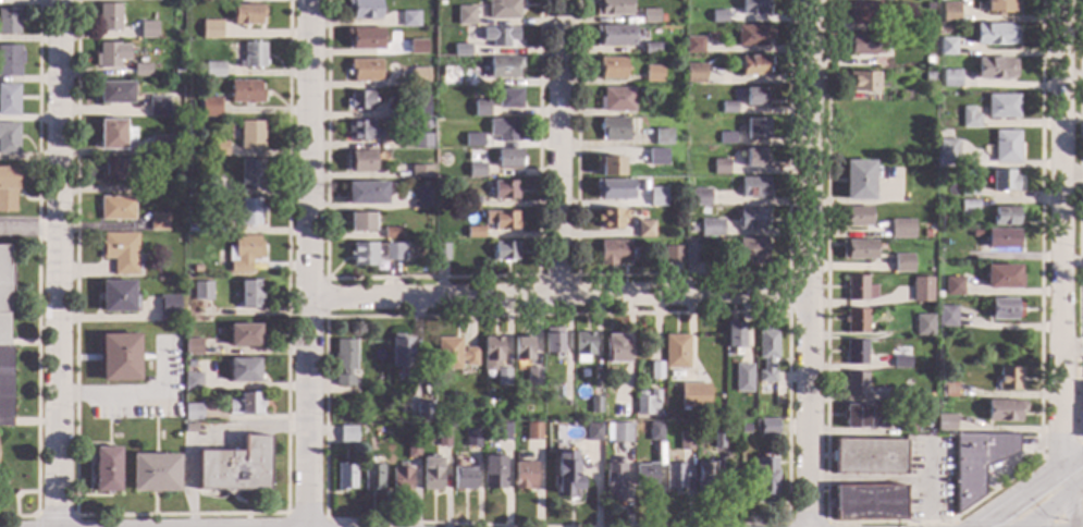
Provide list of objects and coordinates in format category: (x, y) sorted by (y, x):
building: (148, 0)
building: (753, 7)
building: (928, 7)
building: (995, 7)
building: (612, 8)
building: (362, 9)
building: (502, 10)
building: (950, 12)
building: (864, 13)
building: (247, 15)
building: (464, 15)
building: (109, 16)
building: (650, 16)
building: (718, 16)
building: (409, 19)
building: (9, 21)
building: (148, 29)
building: (211, 29)
building: (994, 34)
building: (614, 35)
building: (752, 35)
building: (500, 37)
building: (364, 38)
building: (865, 44)
building: (694, 45)
building: (416, 47)
building: (947, 47)
building: (653, 49)
building: (460, 50)
building: (111, 54)
building: (253, 56)
building: (10, 61)
building: (927, 61)
building: (753, 65)
building: (503, 68)
building: (612, 68)
building: (994, 68)
building: (141, 70)
building: (212, 70)
building: (365, 70)
building: (176, 74)
building: (653, 74)
building: (694, 74)
building: (927, 76)
building: (419, 77)
building: (951, 78)
building: (468, 81)
building: (862, 82)
building: (245, 91)
building: (114, 93)
building: (641, 93)
building: (902, 94)
building: (507, 98)
building: (754, 98)
building: (9, 99)
building: (359, 100)
building: (616, 100)
building: (158, 106)
building: (931, 106)
building: (1001, 106)
building: (207, 107)
building: (418, 107)
building: (728, 108)
building: (480, 109)
building: (969, 118)
building: (423, 125)
building: (901, 125)
building: (756, 128)
building: (389, 130)
building: (503, 130)
building: (613, 130)
building: (362, 131)
building: (114, 134)
building: (250, 135)
building: (865, 135)
building: (662, 137)
building: (889, 137)
building: (9, 138)
building: (729, 139)
building: (421, 140)
building: (472, 140)
building: (924, 140)
building: (909, 143)
building: (160, 145)
building: (1005, 146)
road: (557, 147)
building: (218, 149)
building: (947, 152)
building: (655, 157)
building: (507, 158)
building: (754, 158)
building: (359, 161)
building: (610, 167)
building: (719, 167)
building: (114, 168)
building: (476, 170)
building: (250, 172)
building: (420, 172)
road: (1072, 175)
building: (858, 181)
building: (1004, 181)
building: (148, 185)
building: (210, 187)
building: (753, 187)
building: (8, 188)
building: (613, 189)
building: (504, 191)
building: (956, 191)
building: (968, 191)
building: (366, 194)
building: (655, 197)
building: (698, 197)
building: (420, 198)
building: (471, 201)
building: (968, 206)
building: (116, 208)
building: (249, 211)
building: (704, 211)
building: (854, 217)
building: (1004, 217)
building: (610, 218)
building: (751, 218)
building: (501, 219)
building: (158, 222)
building: (360, 222)
road: (1079, 224)
building: (214, 226)
building: (711, 228)
building: (194, 229)
building: (643, 229)
building: (900, 229)
road: (28, 230)
building: (475, 232)
building: (392, 233)
building: (876, 234)
building: (1000, 238)
road: (1060, 241)
building: (920, 248)
building: (858, 249)
building: (752, 250)
building: (505, 252)
building: (613, 252)
building: (121, 253)
building: (374, 253)
building: (441, 253)
building: (244, 254)
building: (672, 255)
building: (690, 255)
road: (57, 263)
road: (313, 263)
road: (810, 263)
building: (902, 263)
building: (1000, 277)
building: (952, 286)
building: (856, 287)
building: (921, 290)
building: (201, 291)
road: (561, 293)
building: (250, 294)
building: (118, 297)
building: (168, 305)
building: (1002, 309)
building: (946, 317)
building: (856, 321)
building: (923, 324)
building: (244, 335)
building: (734, 336)
building: (4, 338)
building: (552, 341)
building: (582, 346)
building: (192, 347)
building: (522, 348)
building: (615, 350)
building: (401, 352)
building: (675, 352)
road: (1071, 352)
building: (491, 353)
building: (857, 353)
building: (454, 354)
building: (119, 358)
building: (765, 359)
building: (188, 361)
building: (344, 361)
building: (900, 361)
building: (243, 370)
building: (655, 371)
building: (502, 377)
building: (533, 377)
building: (742, 378)
building: (1007, 380)
building: (192, 381)
building: (856, 384)
building: (686, 390)
building: (948, 390)
road: (131, 391)
building: (563, 392)
building: (900, 394)
building: (740, 397)
building: (245, 404)
building: (644, 404)
building: (594, 405)
building: (618, 409)
building: (424, 410)
building: (1004, 410)
building: (192, 412)
building: (756, 413)
building: (606, 416)
building: (859, 416)
building: (1082, 419)
building: (727, 421)
building: (945, 422)
building: (907, 426)
building: (767, 427)
building: (189, 428)
building: (743, 428)
building: (532, 431)
building: (654, 431)
building: (501, 432)
building: (592, 432)
building: (617, 432)
building: (347, 434)
road: (209, 436)
building: (442, 438)
building: (471, 438)
building: (717, 440)
building: (739, 440)
building: (687, 441)
building: (701, 441)
building: (411, 450)
road: (1059, 451)
building: (687, 456)
building: (869, 457)
building: (977, 462)
building: (235, 466)
building: (106, 469)
building: (493, 471)
building: (153, 473)
building: (431, 474)
road: (1072, 474)
building: (565, 475)
building: (644, 475)
building: (703, 475)
building: (764, 475)
building: (524, 476)
building: (345, 477)
building: (372, 477)
building: (674, 477)
road: (927, 477)
parking lot: (928, 477)
building: (464, 478)
building: (401, 479)
road: (867, 479)
building: (613, 481)
road: (1018, 501)
building: (869, 503)
road: (1050, 506)
road: (1069, 508)
road: (1067, 513)
traffic signals: (988, 520)
road: (1006, 520)
road: (910, 523)

